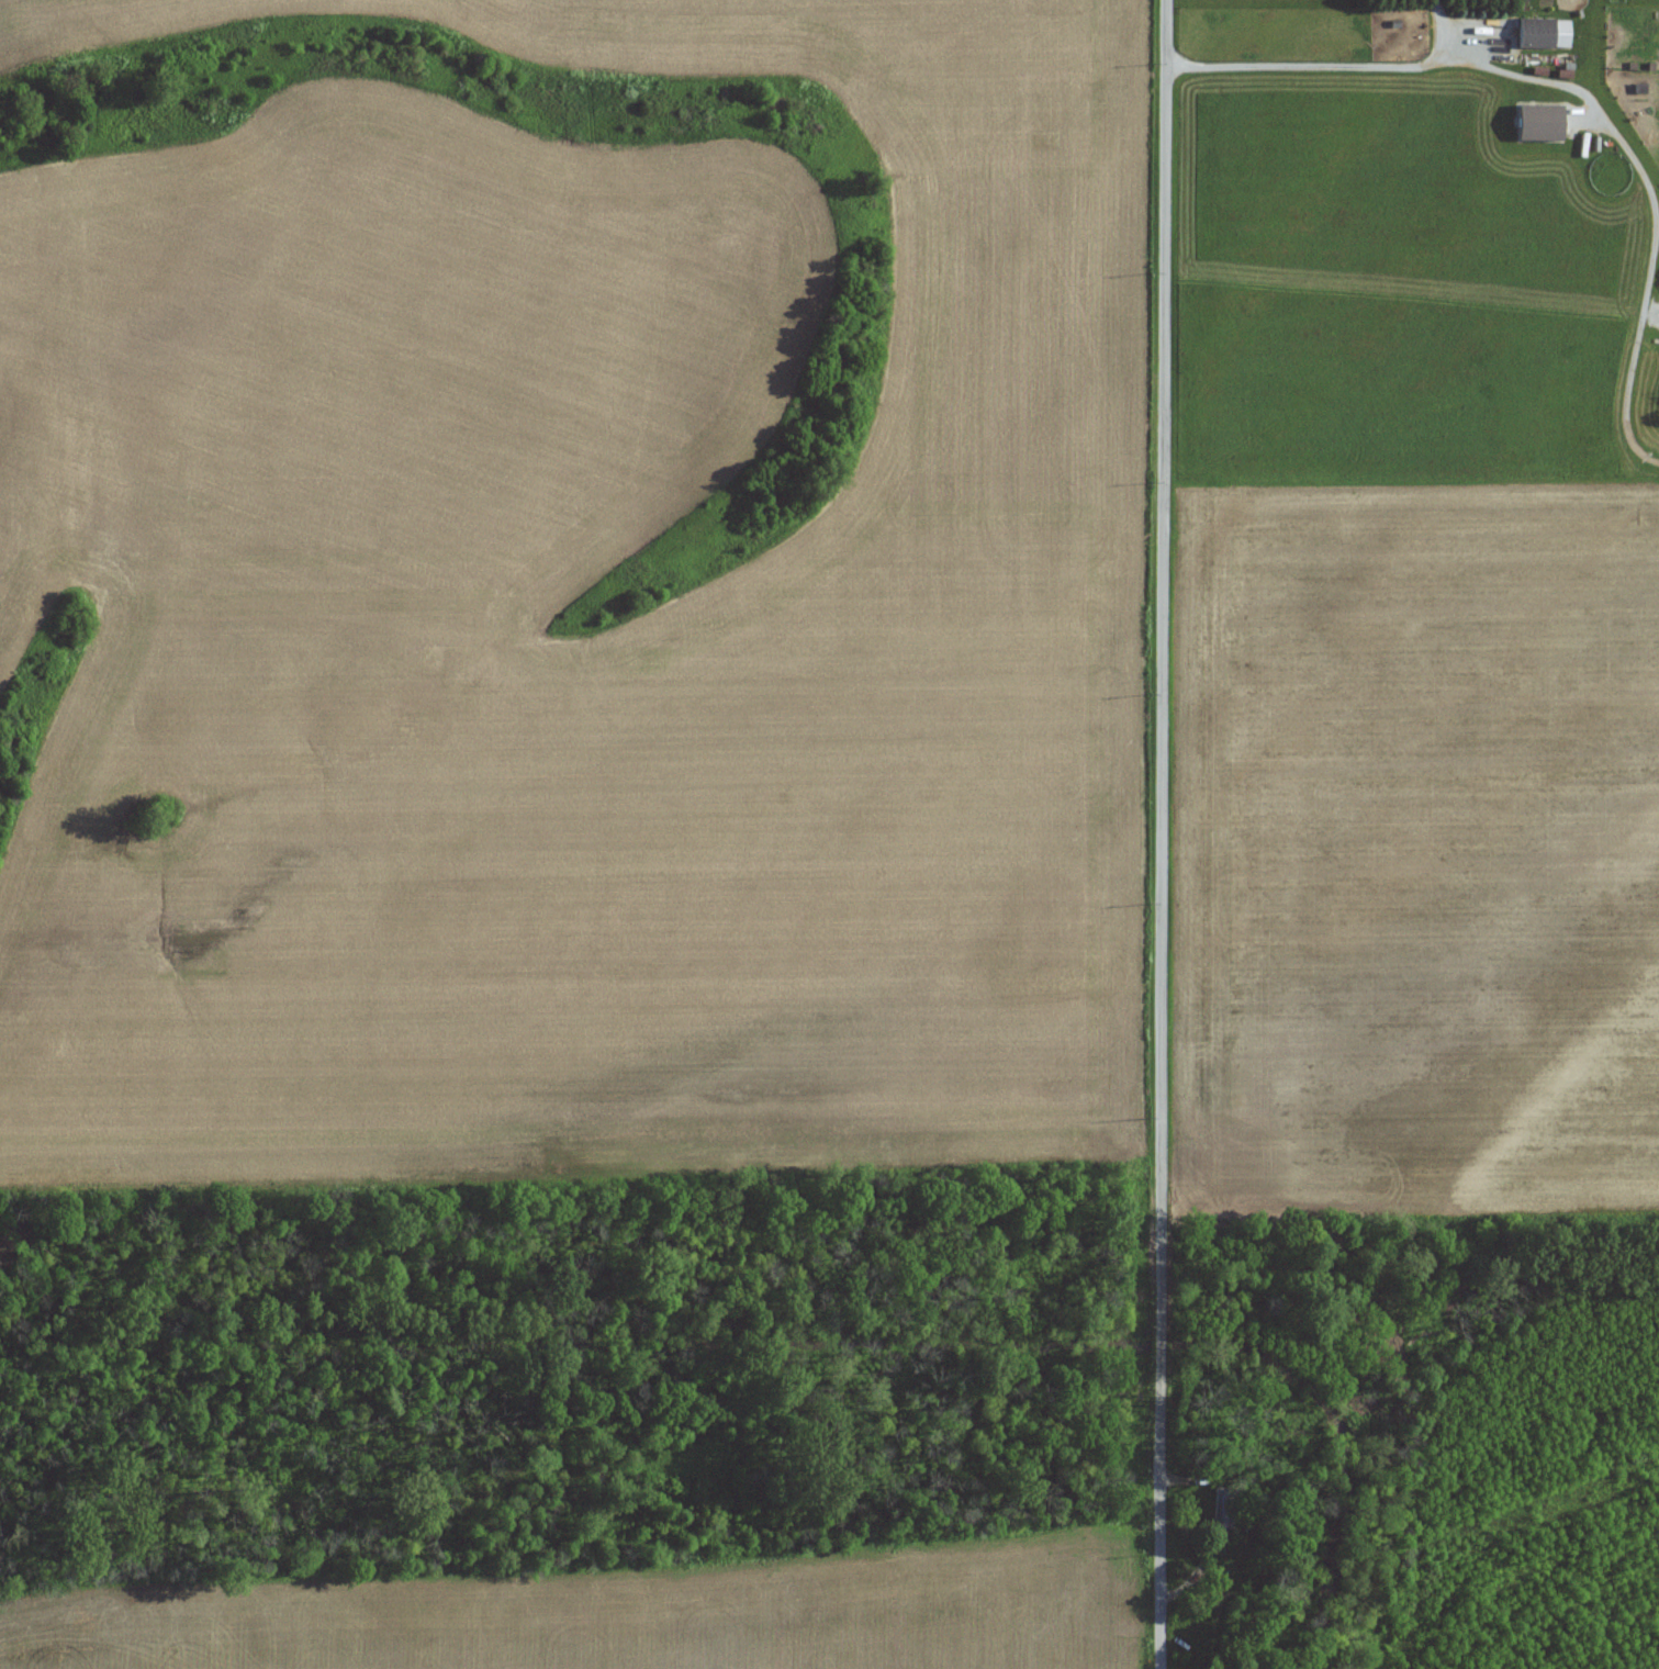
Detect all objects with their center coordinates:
building: (1542, 33)
road: (1334, 66)
building: (1534, 123)
road: (1650, 205)
road: (1162, 833)

